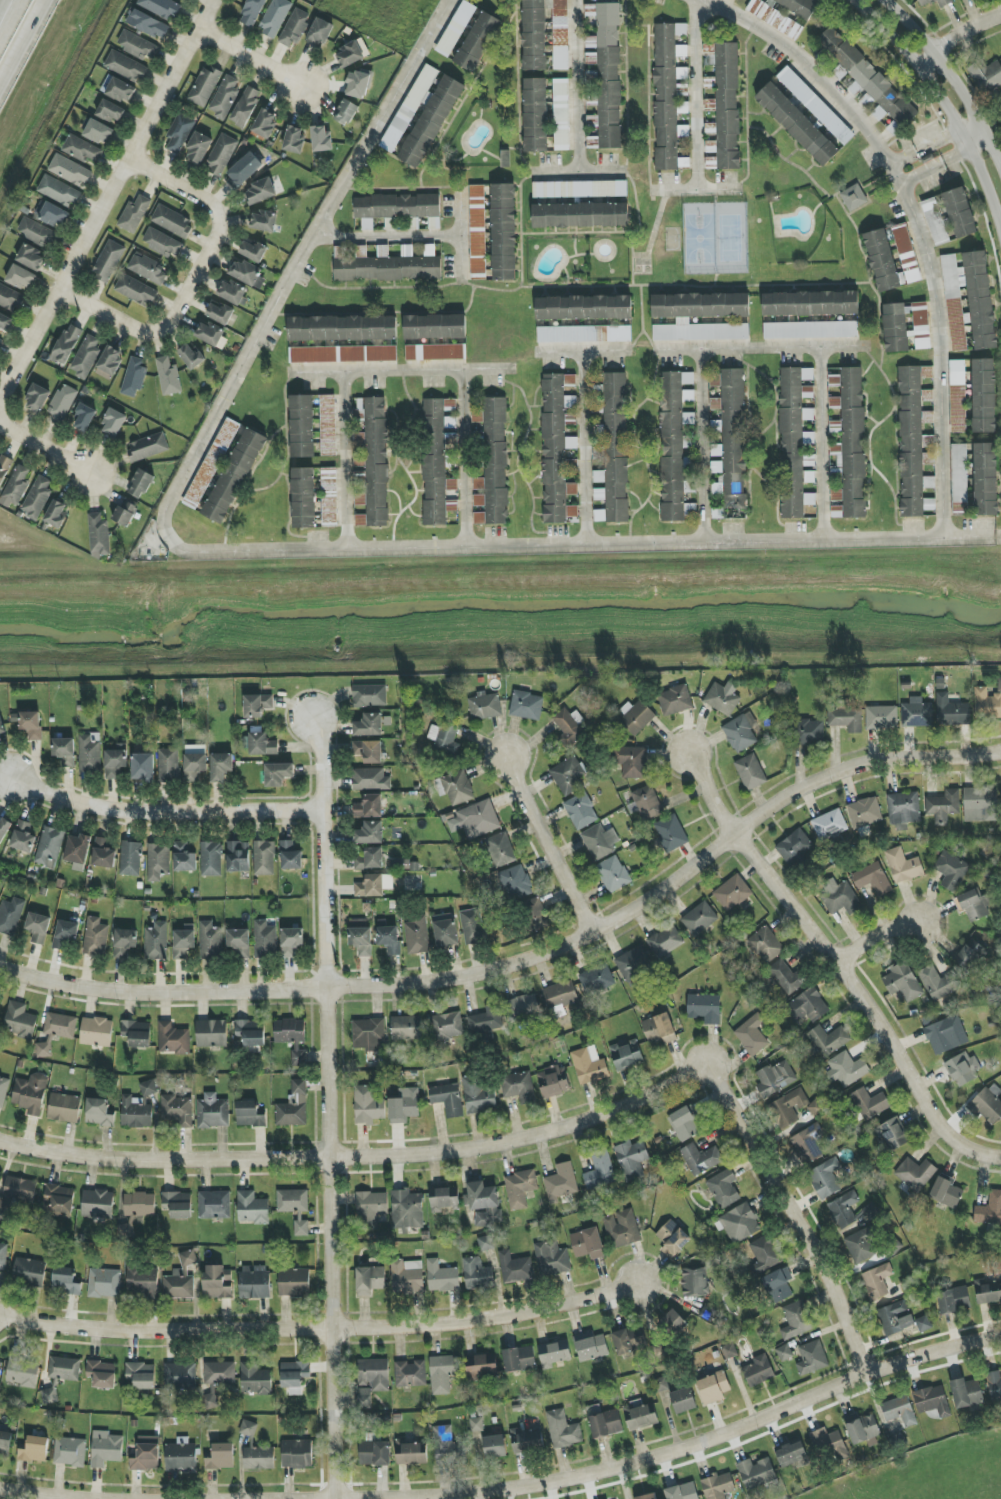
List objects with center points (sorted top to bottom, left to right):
building: (923, 5)
building: (161, 8)
building: (252, 12)
building: (769, 16)
building: (275, 17)
road: (9, 18)
building: (148, 24)
building: (294, 28)
building: (456, 29)
building: (319, 33)
building: (559, 33)
building: (534, 35)
road: (955, 37)
road: (22, 41)
building: (477, 41)
building: (137, 46)
building: (352, 53)
road: (251, 59)
building: (125, 67)
building: (682, 74)
building: (608, 76)
building: (986, 76)
road: (951, 77)
building: (868, 78)
building: (358, 84)
building: (204, 86)
road: (574, 87)
building: (120, 91)
building: (666, 94)
road: (693, 94)
building: (224, 97)
building: (867, 101)
building: (727, 106)
building: (816, 106)
building: (245, 107)
building: (682, 107)
road: (944, 108)
building: (111, 111)
building: (346, 113)
building: (535, 115)
building: (561, 115)
building: (421, 117)
building: (264, 124)
building: (797, 124)
building: (710, 129)
building: (98, 132)
building: (179, 133)
road: (971, 134)
building: (321, 139)
building: (294, 140)
building: (592, 142)
road: (937, 142)
building: (82, 149)
building: (198, 149)
road: (954, 153)
building: (221, 155)
building: (711, 155)
road: (902, 158)
building: (70, 171)
road: (920, 172)
building: (240, 173)
road: (575, 174)
building: (580, 189)
road: (698, 190)
building: (59, 192)
building: (260, 192)
building: (854, 198)
road: (106, 201)
road: (204, 202)
building: (397, 209)
building: (960, 213)
building: (54, 215)
building: (134, 215)
building: (580, 215)
building: (935, 220)
building: (172, 221)
building: (263, 221)
road: (915, 223)
building: (390, 224)
building: (477, 231)
building: (504, 232)
building: (37, 233)
road: (458, 236)
road: (385, 237)
building: (162, 243)
building: (253, 252)
building: (906, 254)
building: (31, 257)
building: (882, 260)
building: (108, 261)
building: (385, 264)
building: (148, 269)
building: (245, 272)
building: (21, 277)
building: (135, 291)
building: (232, 292)
building: (11, 299)
building: (969, 300)
building: (810, 303)
building: (584, 308)
building: (220, 314)
building: (700, 316)
building: (5, 322)
building: (921, 326)
building: (435, 327)
building: (896, 327)
building: (342, 328)
building: (810, 330)
road: (135, 331)
building: (210, 334)
building: (584, 334)
building: (1, 340)
building: (66, 345)
road: (753, 348)
road: (582, 349)
building: (434, 352)
building: (343, 354)
building: (86, 356)
building: (191, 357)
building: (110, 360)
road: (399, 370)
building: (926, 372)
building: (133, 377)
building: (168, 377)
building: (834, 381)
building: (808, 392)
building: (957, 396)
building: (984, 396)
building: (37, 398)
building: (834, 403)
building: (61, 405)
building: (450, 405)
building: (84, 418)
building: (113, 423)
building: (328, 425)
building: (302, 426)
building: (730, 440)
building: (673, 443)
building: (793, 443)
building: (853, 443)
road: (820, 444)
road: (700, 446)
building: (912, 446)
building: (147, 447)
road: (46, 448)
road: (582, 448)
building: (557, 450)
building: (614, 453)
road: (464, 459)
road: (342, 461)
building: (434, 462)
building: (211, 463)
building: (371, 463)
building: (492, 463)
building: (4, 468)
building: (234, 476)
building: (959, 478)
building: (985, 479)
building: (141, 484)
building: (451, 484)
building: (16, 487)
building: (329, 497)
building: (37, 498)
building: (303, 498)
building: (836, 503)
building: (452, 506)
building: (125, 513)
building: (56, 514)
building: (726, 514)
building: (98, 536)
road: (998, 537)
road: (270, 552)
building: (999, 685)
building: (369, 696)
building: (722, 700)
building: (675, 701)
building: (986, 704)
building: (257, 705)
building: (484, 706)
building: (526, 706)
building: (951, 712)
building: (916, 714)
building: (636, 717)
building: (846, 717)
building: (881, 718)
building: (31, 725)
building: (369, 725)
building: (570, 726)
building: (2, 727)
building: (808, 732)
building: (739, 734)
building: (445, 737)
building: (262, 743)
building: (64, 751)
building: (368, 751)
building: (90, 754)
building: (631, 761)
building: (115, 762)
building: (194, 762)
building: (168, 766)
building: (221, 767)
building: (143, 768)
building: (750, 772)
building: (278, 774)
building: (568, 776)
building: (370, 780)
building: (455, 788)
building: (648, 803)
building: (980, 805)
building: (943, 806)
building: (369, 807)
building: (903, 810)
road: (162, 811)
building: (581, 811)
building: (864, 812)
building: (478, 820)
building: (829, 825)
building: (4, 829)
building: (370, 833)
building: (670, 834)
building: (23, 837)
building: (599, 841)
road: (549, 842)
building: (49, 847)
building: (795, 847)
building: (77, 849)
building: (500, 850)
building: (103, 854)
building: (238, 857)
building: (290, 857)
building: (184, 858)
building: (264, 858)
building: (131, 859)
building: (211, 859)
building: (370, 860)
building: (158, 861)
building: (403, 865)
building: (903, 866)
building: (951, 871)
building: (613, 874)
building: (872, 879)
building: (516, 883)
building: (374, 886)
building: (732, 893)
building: (840, 897)
building: (972, 905)
building: (534, 915)
building: (11, 916)
building: (700, 919)
building: (472, 926)
building: (38, 928)
building: (445, 931)
building: (66, 935)
building: (417, 936)
building: (360, 937)
road: (875, 937)
building: (95, 938)
building: (389, 939)
building: (210, 940)
building: (265, 940)
building: (291, 941)
building: (156, 942)
building: (184, 942)
building: (239, 942)
building: (665, 942)
building: (124, 943)
road: (818, 944)
building: (765, 945)
building: (969, 957)
building: (632, 962)
road: (526, 963)
building: (784, 977)
building: (597, 980)
building: (902, 982)
building: (939, 984)
building: (0, 998)
building: (559, 999)
building: (806, 1007)
building: (705, 1008)
building: (523, 1009)
building: (19, 1021)
building: (485, 1023)
building: (446, 1026)
building: (406, 1028)
building: (659, 1029)
building: (56, 1032)
building: (96, 1032)
building: (137, 1034)
building: (212, 1034)
building: (249, 1035)
building: (368, 1035)
building: (946, 1035)
building: (752, 1036)
building: (292, 1038)
building: (173, 1039)
building: (828, 1040)
building: (626, 1055)
building: (589, 1065)
building: (962, 1068)
building: (846, 1069)
building: (775, 1079)
building: (553, 1082)
building: (518, 1087)
building: (3, 1090)
building: (30, 1094)
building: (478, 1096)
building: (448, 1099)
building: (870, 1103)
building: (294, 1106)
building: (368, 1106)
building: (404, 1106)
building: (986, 1106)
road: (327, 1107)
building: (64, 1108)
building: (138, 1108)
building: (788, 1108)
building: (177, 1110)
building: (212, 1112)
building: (98, 1113)
building: (249, 1115)
building: (684, 1124)
building: (892, 1134)
building: (808, 1144)
road: (974, 1151)
road: (329, 1158)
building: (701, 1159)
building: (632, 1160)
building: (600, 1171)
building: (915, 1174)
building: (825, 1178)
building: (561, 1182)
road: (779, 1188)
building: (519, 1189)
building: (723, 1189)
building: (946, 1192)
building: (15, 1194)
building: (444, 1199)
building: (58, 1202)
building: (97, 1204)
building: (178, 1204)
building: (484, 1204)
building: (139, 1205)
building: (214, 1205)
building: (371, 1205)
building: (252, 1208)
building: (295, 1208)
building: (407, 1210)
building: (843, 1210)
building: (989, 1210)
building: (740, 1223)
building: (622, 1229)
building: (127, 1230)
building: (667, 1231)
building: (486, 1244)
building: (587, 1244)
building: (676, 1244)
building: (860, 1247)
building: (764, 1255)
building: (3, 1256)
building: (552, 1259)
building: (515, 1268)
building: (29, 1272)
building: (477, 1274)
building: (407, 1277)
building: (442, 1277)
building: (181, 1279)
building: (370, 1280)
building: (65, 1281)
building: (143, 1281)
building: (255, 1281)
building: (877, 1281)
building: (218, 1282)
building: (294, 1282)
building: (104, 1283)
building: (695, 1283)
building: (778, 1285)
building: (989, 1293)
building: (954, 1300)
building: (895, 1318)
building: (796, 1320)
building: (674, 1323)
building: (924, 1324)
road: (319, 1329)
building: (628, 1342)
building: (591, 1346)
building: (730, 1351)
building: (784, 1353)
building: (553, 1354)
building: (812, 1358)
building: (519, 1359)
building: (64, 1369)
building: (482, 1370)
building: (758, 1371)
building: (22, 1373)
building: (219, 1373)
building: (443, 1373)
building: (102, 1374)
building: (411, 1374)
building: (141, 1375)
building: (373, 1375)
building: (180, 1376)
building: (295, 1376)
building: (255, 1379)
building: (661, 1385)
building: (994, 1385)
building: (713, 1388)
building: (966, 1393)
building: (49, 1396)
building: (364, 1399)
building: (683, 1401)
building: (932, 1401)
building: (209, 1402)
building: (899, 1411)
building: (641, 1416)
building: (476, 1425)
building: (248, 1429)
building: (862, 1429)
building: (562, 1430)
building: (527, 1442)
building: (5, 1444)
building: (829, 1444)
building: (447, 1446)
building: (494, 1446)
building: (34, 1450)
building: (106, 1451)
building: (70, 1452)
building: (146, 1454)
building: (297, 1454)
building: (375, 1454)
building: (411, 1454)
building: (791, 1454)
building: (181, 1455)
building: (221, 1457)
building: (259, 1458)
road: (655, 1459)
building: (756, 1473)
building: (718, 1486)
building: (682, 1492)
road: (49, 1495)
building: (647, 1497)

